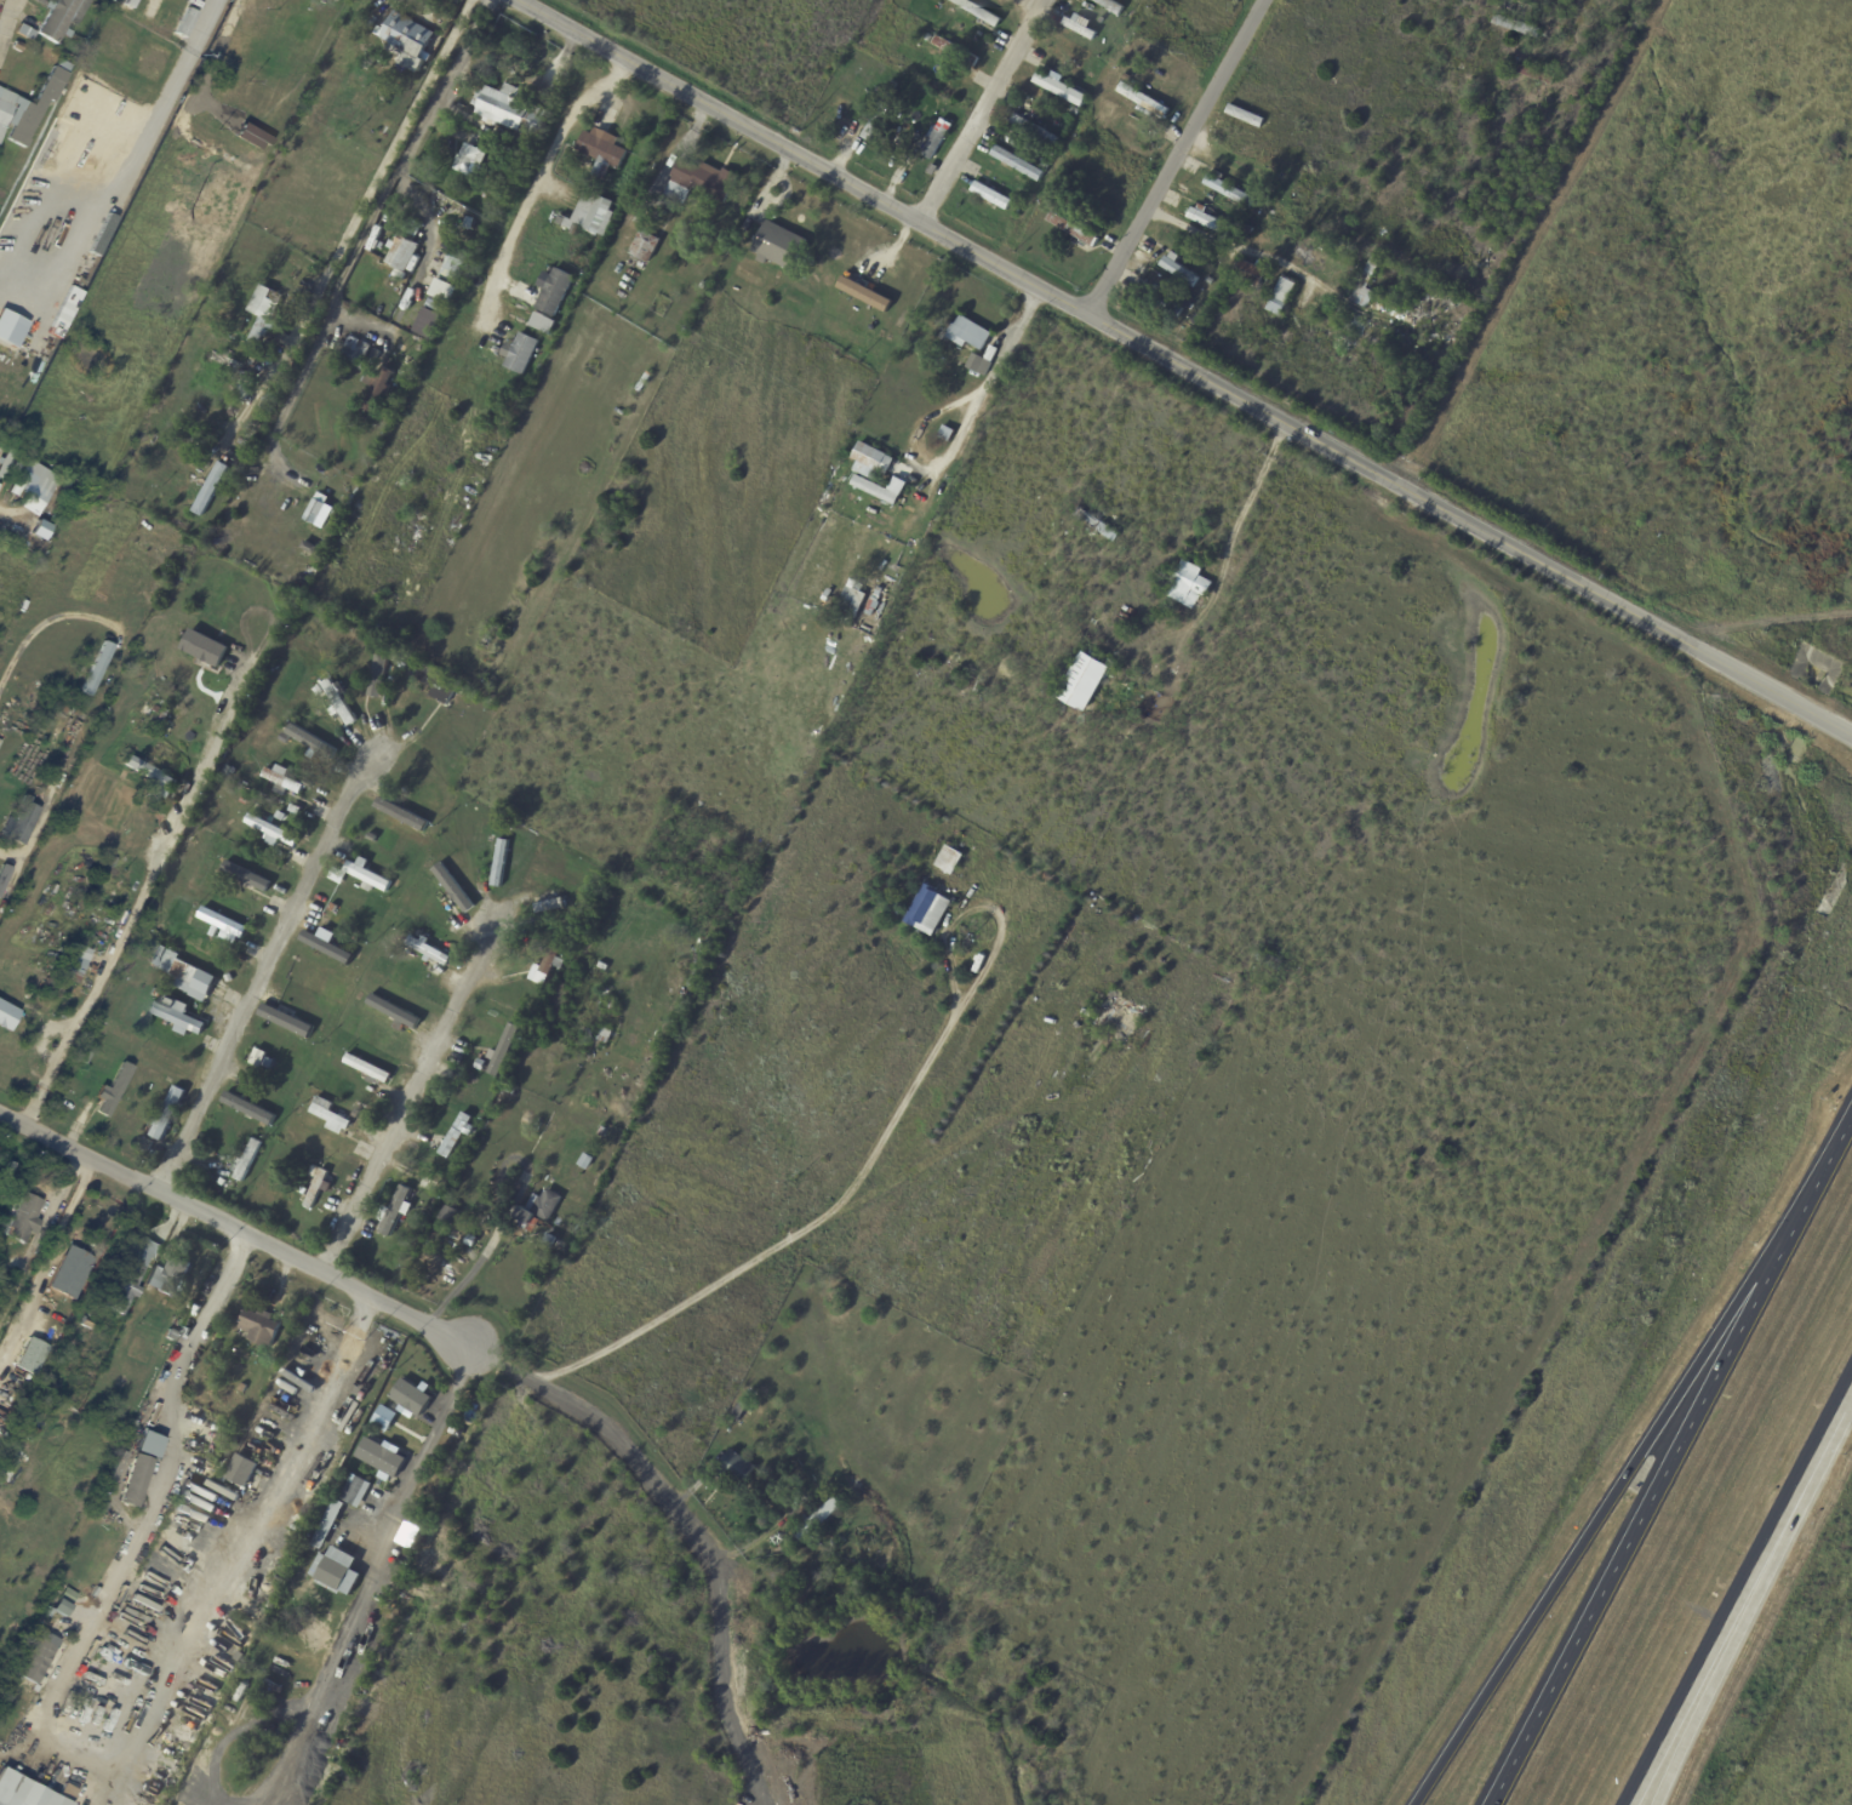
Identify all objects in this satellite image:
building: (181, 4)
building: (1110, 5)
building: (1516, 7)
building: (978, 12)
building: (57, 18)
road: (6, 19)
road: (207, 22)
building: (1078, 27)
building: (1516, 27)
building: (24, 34)
building: (137, 39)
building: (928, 39)
building: (407, 40)
building: (18, 46)
building: (956, 51)
road: (211, 57)
building: (175, 62)
building: (366, 64)
building: (360, 75)
building: (1533, 76)
building: (1126, 79)
building: (892, 87)
building: (1059, 87)
building: (1143, 102)
building: (943, 103)
building: (29, 105)
building: (505, 112)
road: (983, 112)
building: (1075, 112)
building: (876, 118)
building: (384, 127)
building: (1033, 130)
building: (937, 141)
building: (510, 152)
building: (1051, 154)
building: (601, 155)
road: (1178, 158)
building: (468, 162)
building: (1017, 164)
building: (498, 166)
building: (1044, 166)
building: (931, 171)
road: (539, 177)
building: (699, 183)
building: (1228, 192)
building: (492, 195)
building: (990, 195)
building: (1017, 201)
building: (1264, 202)
building: (1054, 209)
building: (598, 217)
road: (351, 221)
building: (1210, 223)
road: (365, 230)
building: (1247, 230)
building: (1073, 232)
building: (375, 233)
building: (641, 247)
building: (777, 247)
building: (400, 253)
building: (452, 267)
building: (1178, 270)
building: (1250, 274)
building: (1208, 281)
building: (1365, 286)
building: (553, 291)
building: (442, 292)
building: (863, 293)
building: (1280, 298)
building: (28, 303)
building: (1161, 304)
building: (262, 313)
building: (543, 324)
building: (967, 336)
building: (354, 353)
building: (521, 355)
building: (225, 361)
building: (981, 364)
road: (1185, 369)
building: (375, 388)
building: (242, 392)
building: (269, 402)
building: (202, 421)
building: (945, 434)
road: (958, 439)
building: (1, 449)
building: (870, 462)
building: (7, 463)
building: (34, 476)
building: (897, 486)
building: (210, 491)
building: (319, 512)
road: (1, 513)
building: (1096, 525)
building: (36, 542)
road: (1228, 546)
building: (1188, 584)
building: (825, 595)
building: (851, 599)
building: (873, 602)
road: (40, 624)
building: (199, 644)
building: (394, 657)
building: (401, 667)
building: (97, 668)
building: (376, 678)
building: (1081, 684)
building: (435, 685)
building: (53, 695)
building: (75, 699)
building: (337, 699)
building: (159, 713)
building: (373, 722)
building: (304, 741)
building: (227, 772)
building: (152, 777)
building: (280, 778)
building: (242, 802)
road: (42, 812)
building: (401, 815)
building: (281, 817)
building: (19, 822)
building: (269, 832)
building: (490, 842)
building: (949, 861)
building: (499, 863)
building: (4, 875)
building: (236, 875)
building: (336, 876)
building: (366, 876)
building: (262, 882)
building: (451, 884)
road: (142, 899)
building: (548, 907)
building: (928, 910)
building: (224, 924)
building: (417, 929)
building: (200, 930)
building: (576, 930)
building: (328, 949)
building: (427, 950)
building: (148, 952)
building: (1269, 961)
road: (263, 966)
building: (69, 967)
building: (545, 967)
building: (182, 973)
building: (154, 993)
building: (415, 1005)
building: (612, 1006)
building: (389, 1009)
building: (175, 1017)
building: (290, 1022)
building: (589, 1035)
building: (602, 1038)
building: (502, 1051)
building: (81, 1056)
building: (257, 1057)
building: (269, 1063)
building: (92, 1064)
building: (479, 1066)
building: (366, 1069)
road: (410, 1092)
building: (113, 1095)
building: (245, 1103)
building: (165, 1114)
building: (328, 1116)
building: (601, 1132)
building: (456, 1137)
building: (145, 1147)
building: (245, 1160)
building: (584, 1163)
building: (7, 1170)
building: (313, 1172)
building: (399, 1179)
building: (222, 1182)
building: (315, 1189)
building: (538, 1209)
building: (393, 1213)
building: (446, 1216)
building: (22, 1218)
road: (501, 1221)
road: (1785, 1223)
road: (238, 1230)
road: (796, 1235)
building: (469, 1241)
building: (547, 1244)
building: (434, 1270)
building: (128, 1275)
building: (70, 1276)
building: (170, 1279)
building: (88, 1319)
building: (258, 1327)
building: (168, 1333)
building: (410, 1396)
building: (738, 1410)
building: (383, 1417)
building: (212, 1424)
building: (145, 1444)
building: (381, 1456)
road: (640, 1460)
building: (736, 1469)
building: (239, 1470)
building: (133, 1480)
building: (355, 1492)
building: (98, 1504)
building: (818, 1518)
building: (326, 1525)
building: (823, 1538)
building: (845, 1538)
building: (335, 1571)
road: (368, 1572)
road: (1561, 1575)
road: (1601, 1577)
building: (57, 1588)
road: (1739, 1590)
building: (65, 1595)
road: (1725, 1649)
building: (39, 1653)
building: (275, 1669)
building: (301, 1677)
building: (335, 1686)
road: (78, 1753)
building: (25, 1792)

